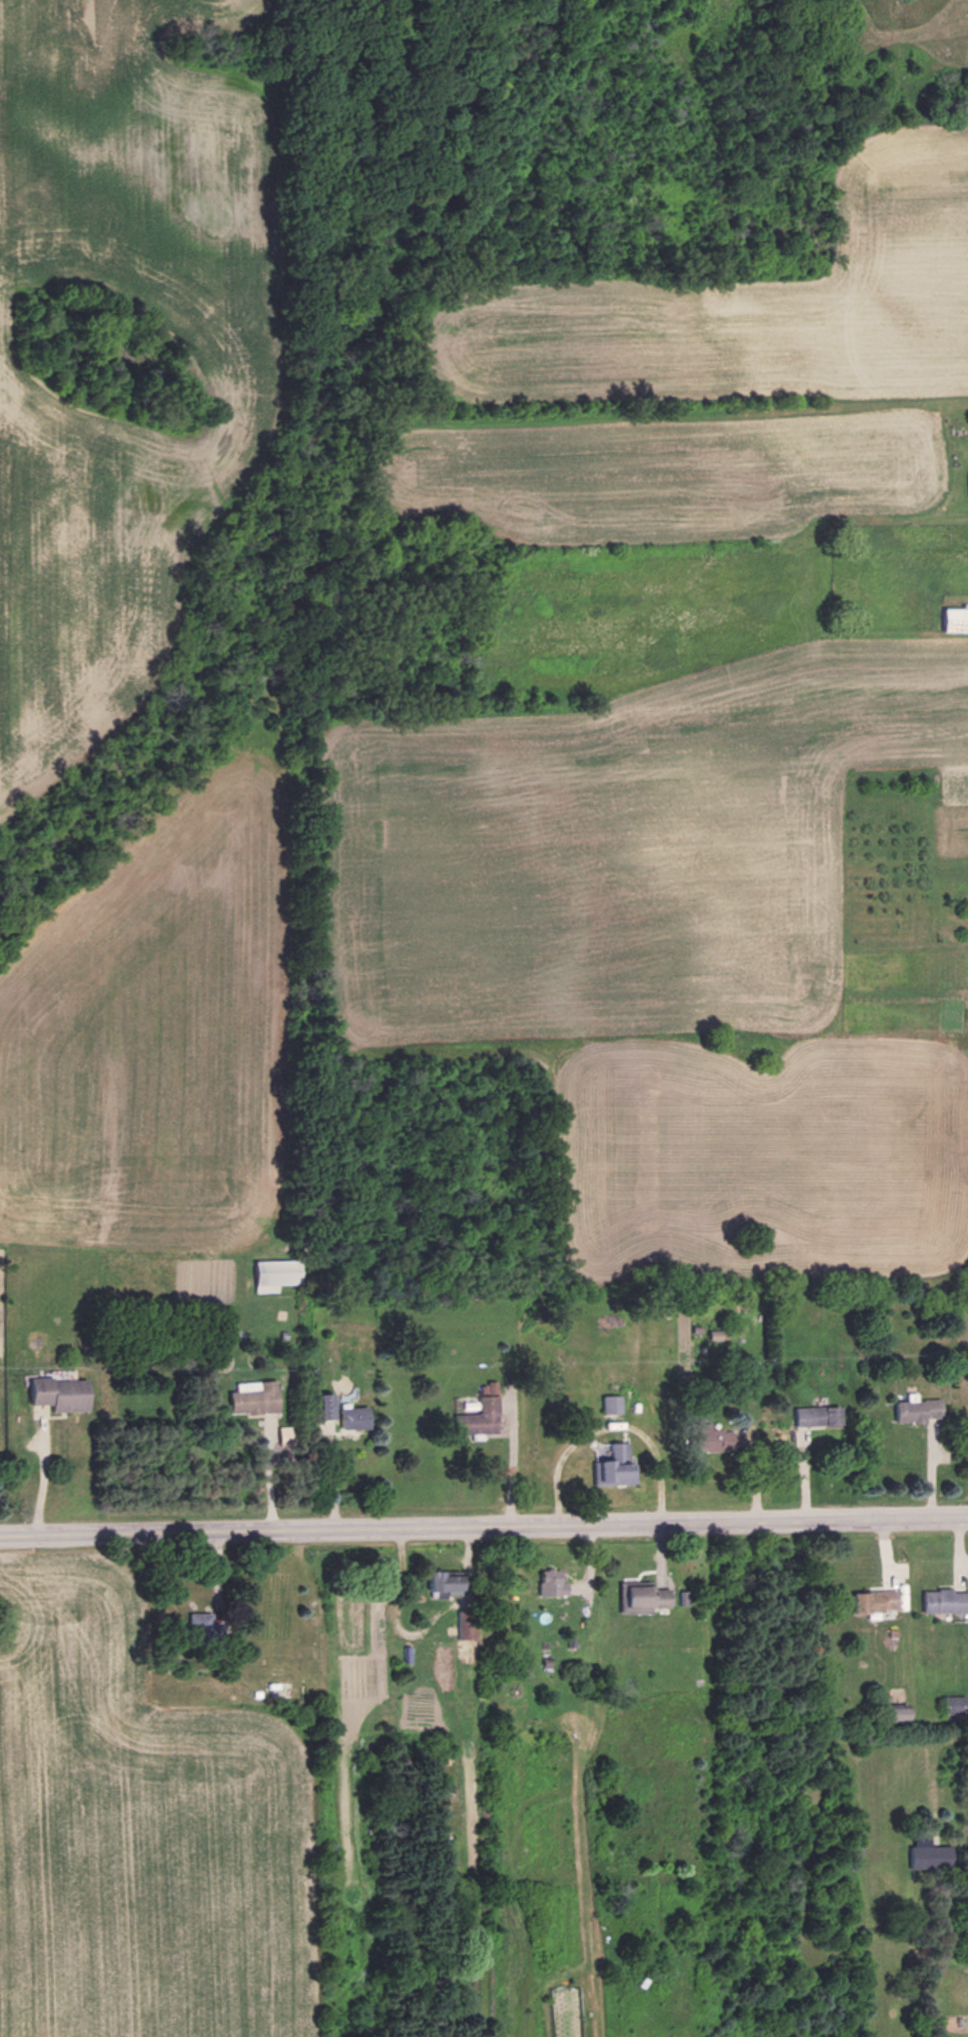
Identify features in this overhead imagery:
building: (273, 1275)
building: (283, 1335)
building: (491, 1389)
building: (59, 1394)
building: (252, 1397)
building: (323, 1406)
building: (611, 1406)
building: (635, 1407)
building: (915, 1409)
building: (351, 1416)
building: (808, 1416)
building: (830, 1416)
building: (478, 1418)
road: (608, 1428)
building: (283, 1435)
building: (706, 1438)
road: (747, 1441)
road: (512, 1455)
building: (609, 1461)
road: (931, 1469)
road: (753, 1470)
road: (43, 1473)
road: (267, 1473)
road: (805, 1475)
road: (333, 1477)
road: (484, 1525)
road: (958, 1552)
road: (659, 1553)
road: (884, 1553)
road: (589, 1565)
building: (550, 1584)
building: (439, 1585)
road: (217, 1587)
building: (641, 1597)
building: (874, 1602)
building: (945, 1603)
building: (203, 1625)
building: (464, 1627)
road: (421, 1631)
building: (572, 1645)
building: (572, 1655)
building: (545, 1662)
building: (953, 1705)
building: (893, 1713)
building: (927, 1855)

